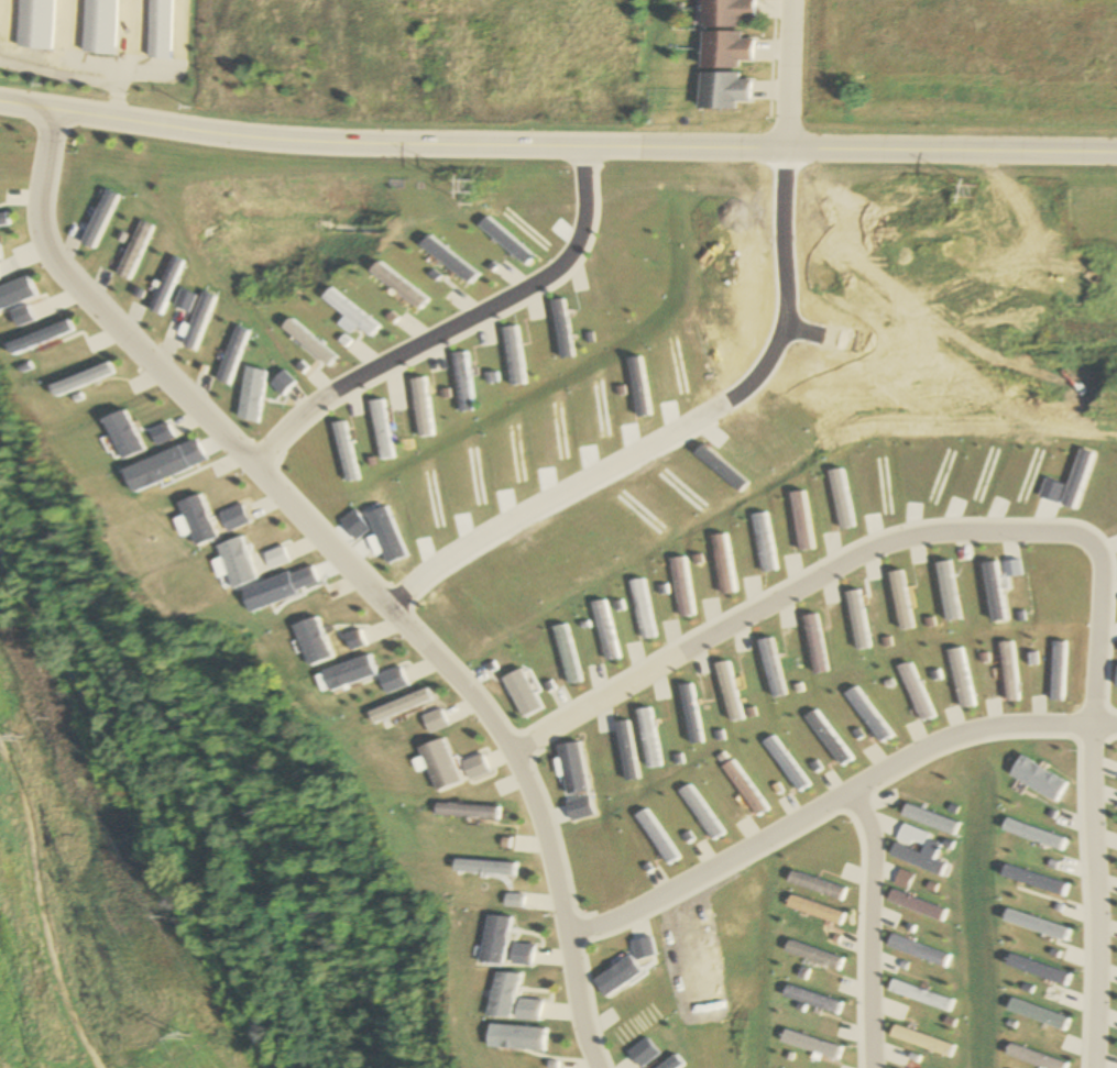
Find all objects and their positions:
building: (725, 13)
building: (32, 24)
building: (96, 26)
building: (162, 30)
building: (725, 51)
road: (787, 74)
building: (725, 91)
road: (557, 142)
power tower: (468, 196)
power tower: (971, 197)
road: (450, 327)
road: (1030, 532)
road: (342, 569)
road: (841, 805)
road: (144, 811)
road: (865, 933)

